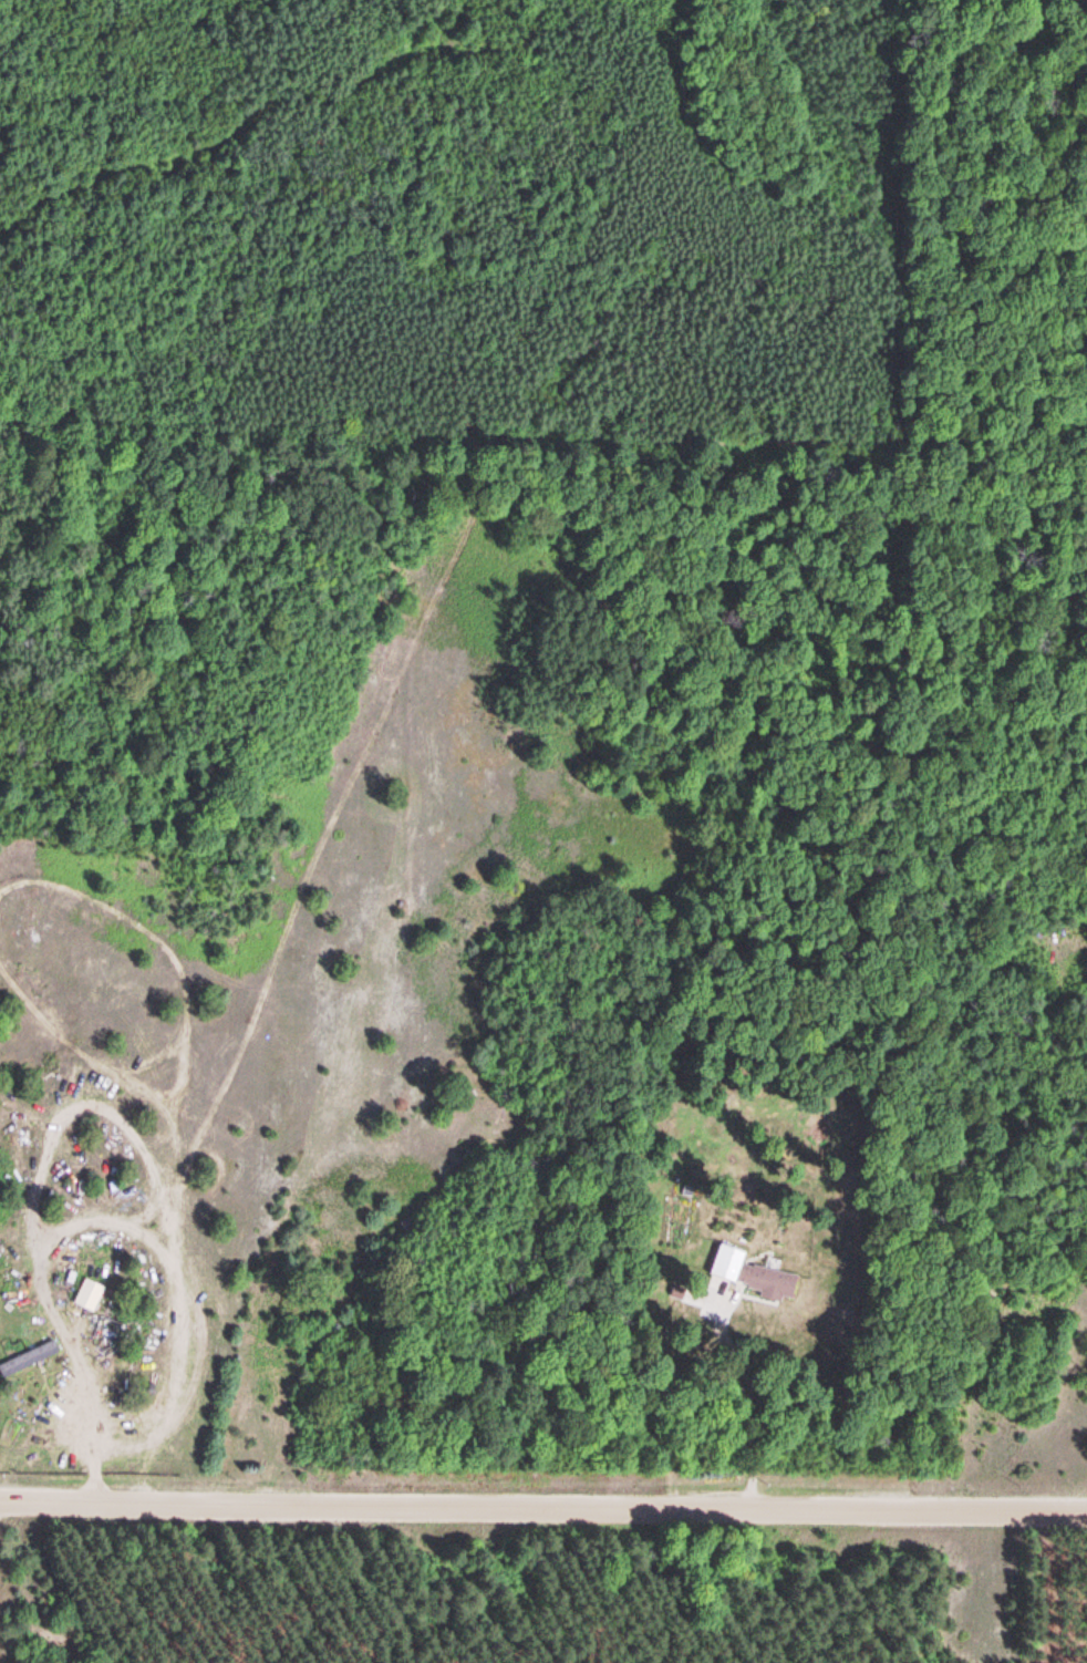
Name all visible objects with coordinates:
road: (543, 432)
building: (754, 1273)
building: (92, 1295)
road: (543, 1500)

